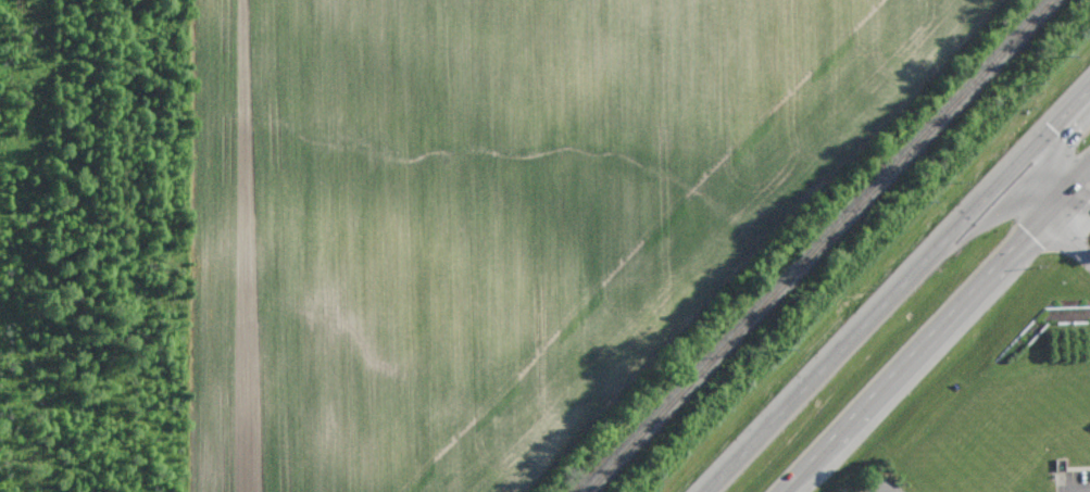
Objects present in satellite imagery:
traffic signals: (1060, 125)
road: (1058, 165)
road: (1089, 173)
road: (1089, 174)
road: (1040, 185)
road: (1070, 193)
road: (1070, 231)
traffic signals: (1030, 236)
railway: (827, 245)
road: (899, 291)
road: (916, 352)

